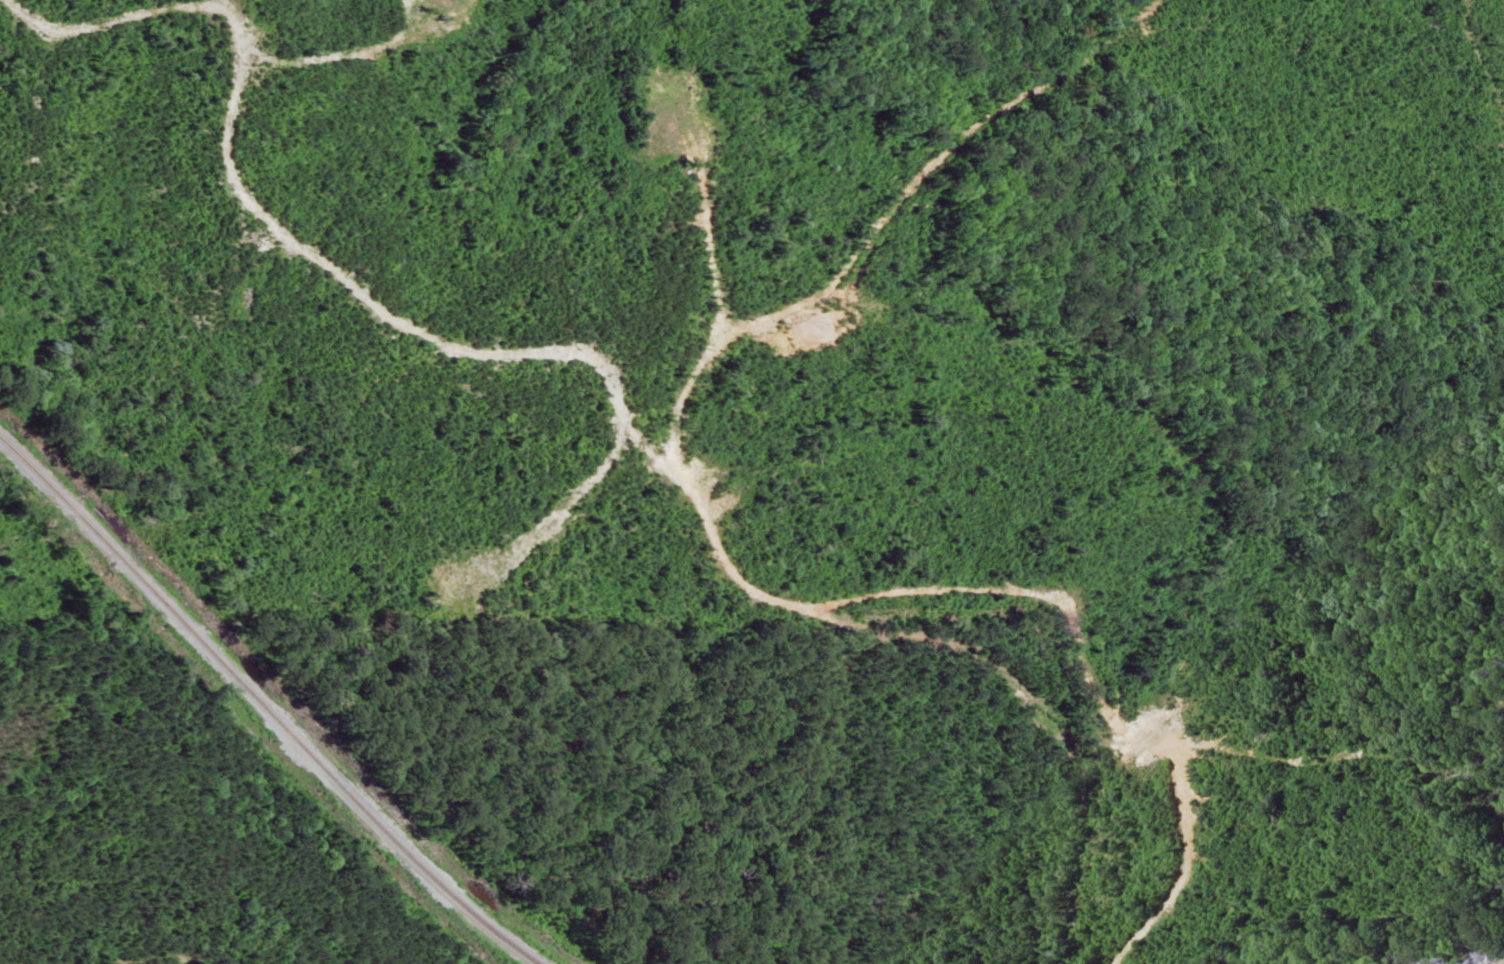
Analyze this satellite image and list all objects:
railway: (263, 704)

